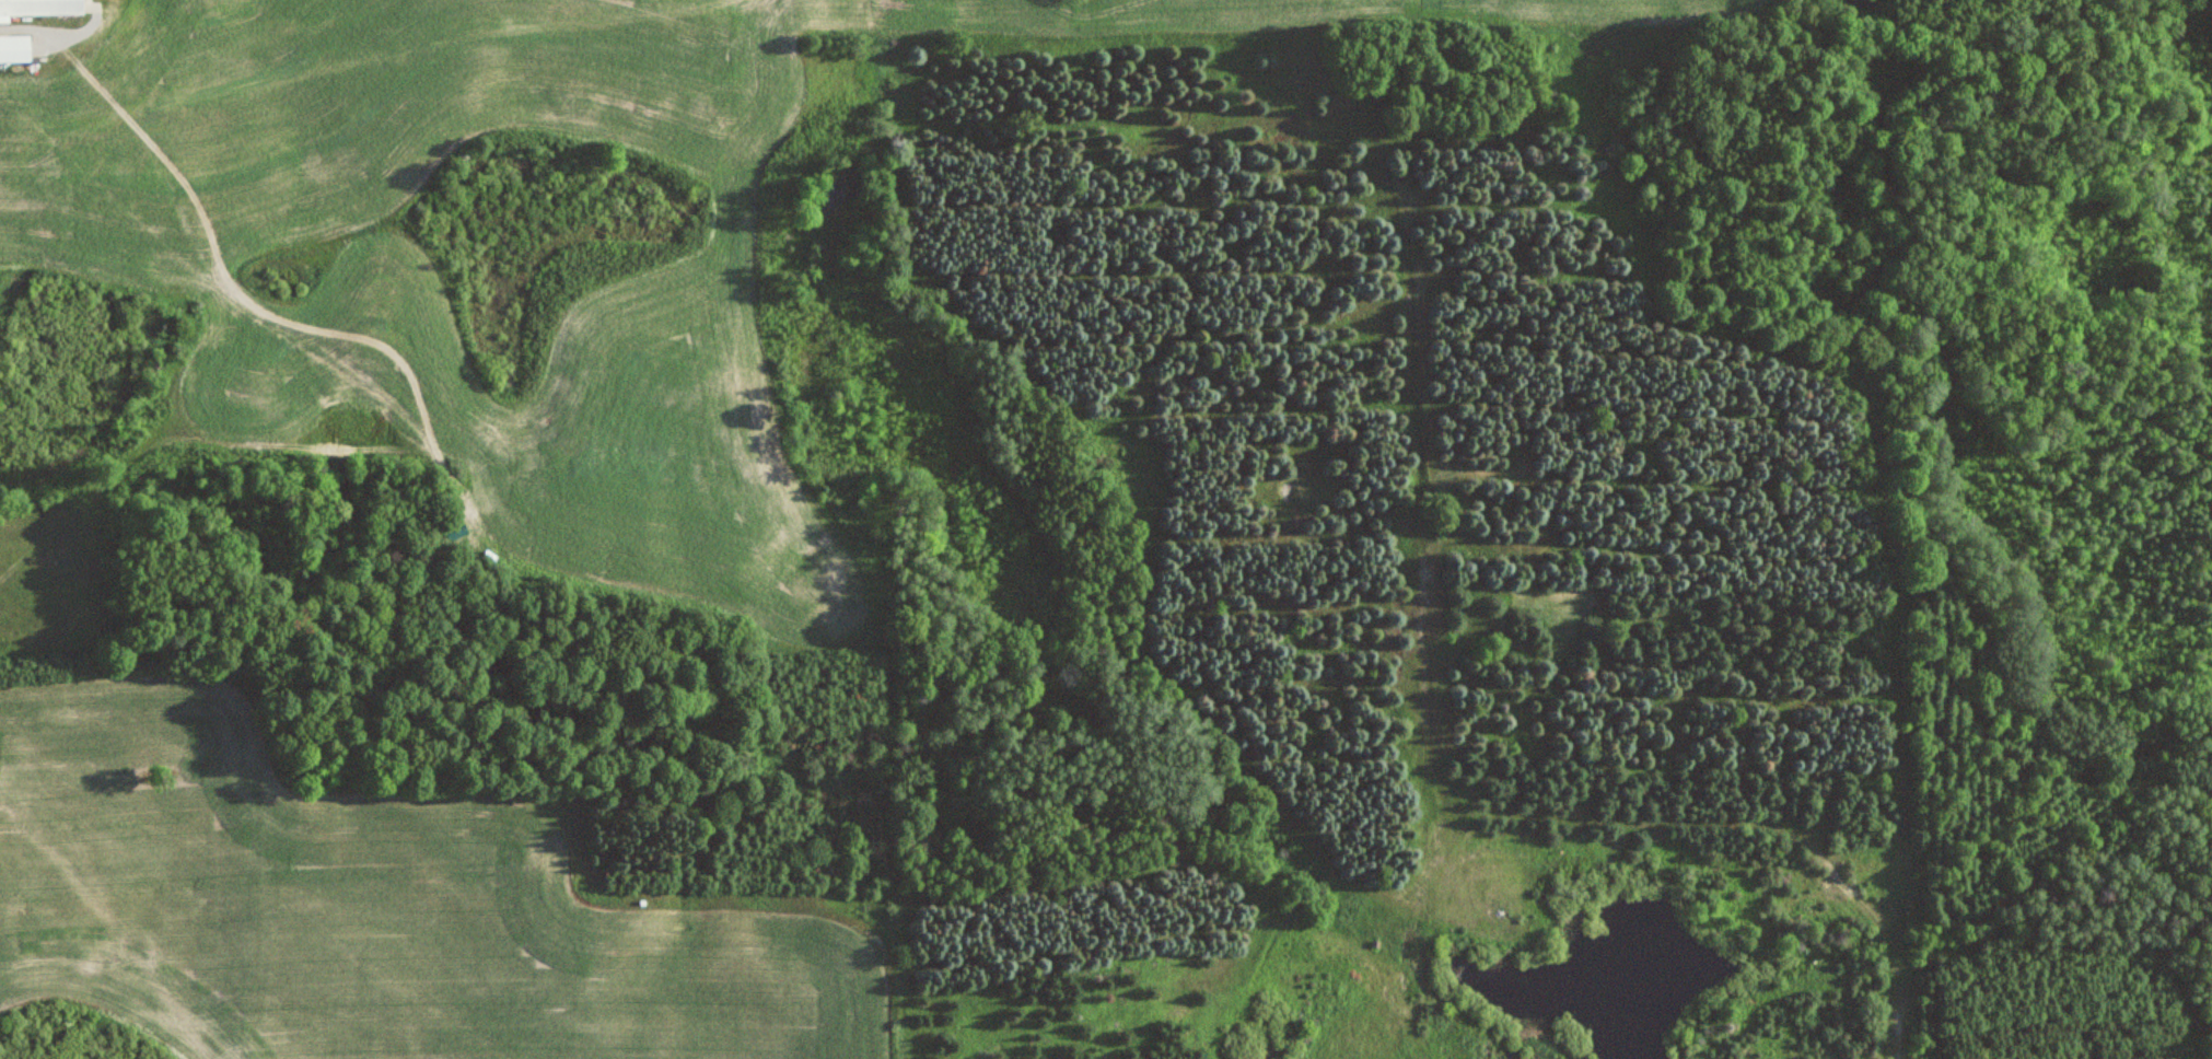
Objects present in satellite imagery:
building: (42, 7)
building: (15, 47)

